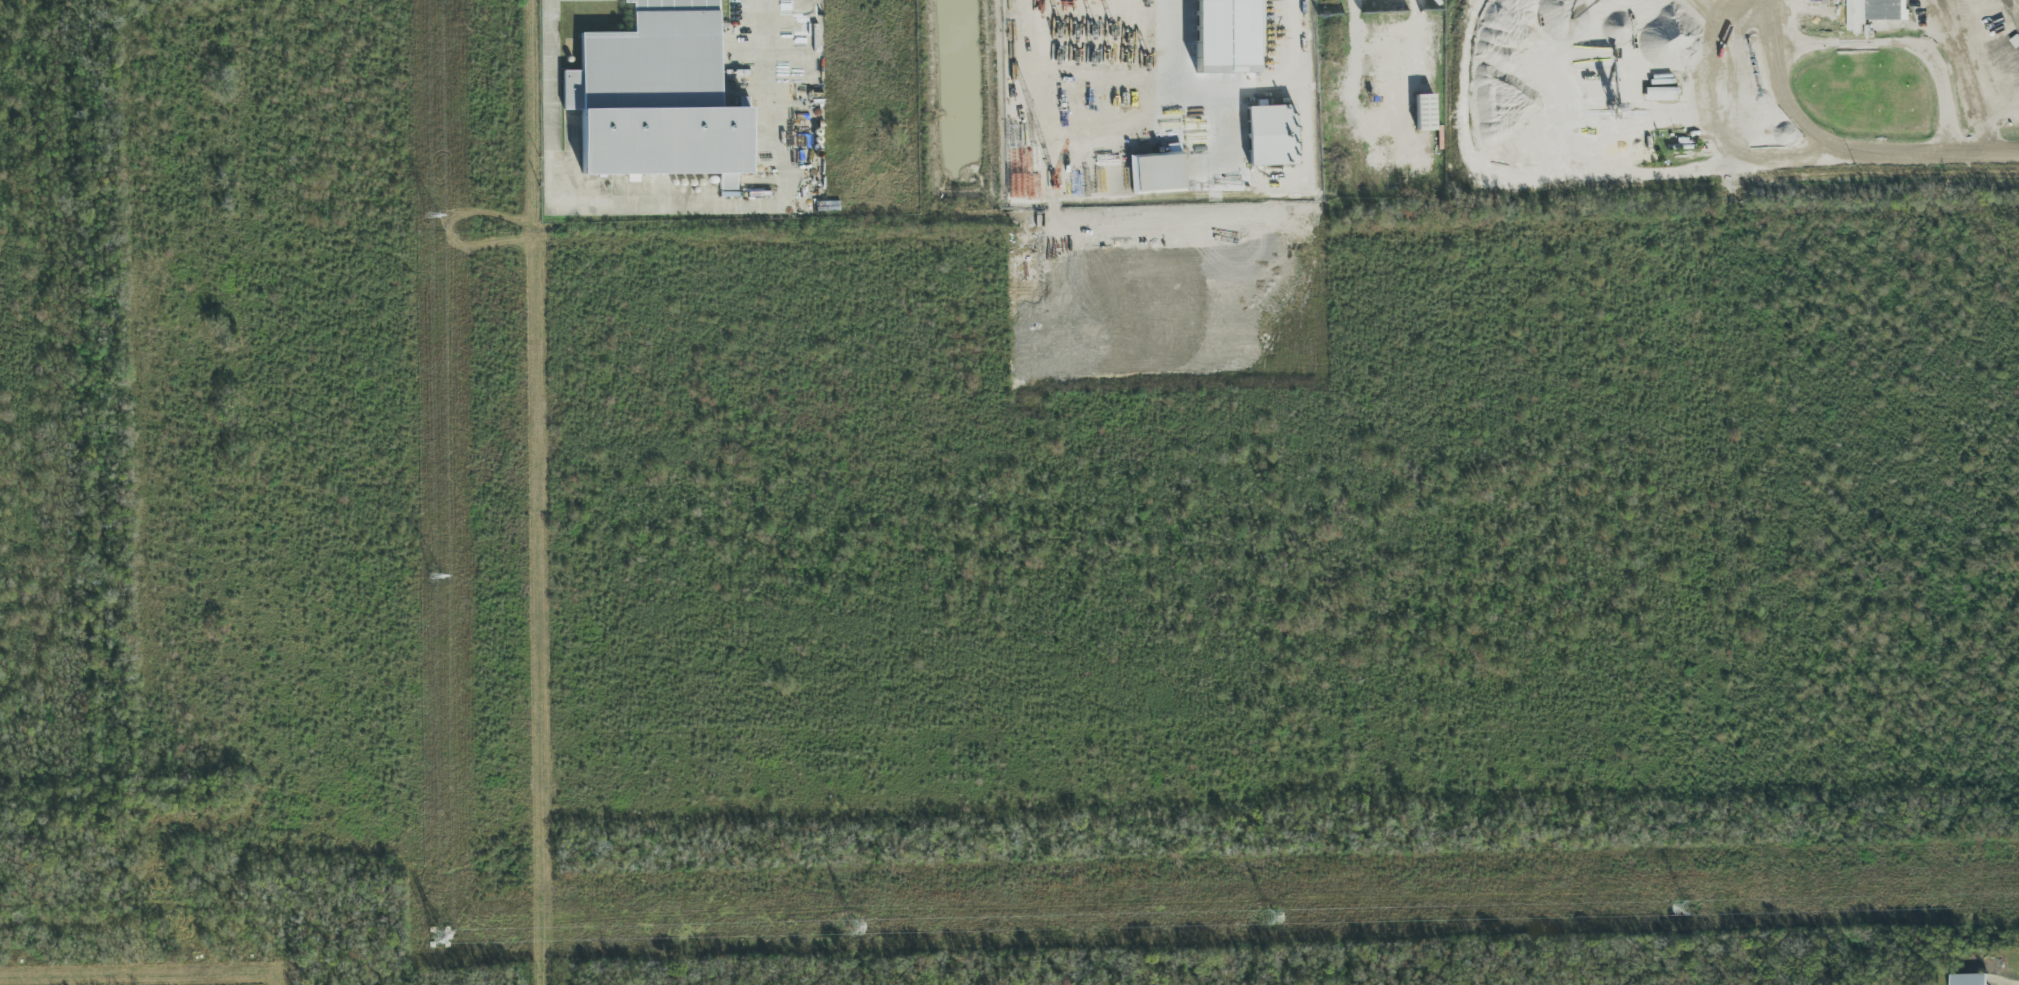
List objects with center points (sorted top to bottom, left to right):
building: (1873, 12)
building: (1227, 35)
road: (1791, 49)
road: (1970, 73)
building: (1661, 93)
building: (658, 96)
road: (552, 102)
building: (1425, 112)
building: (1270, 134)
road: (1982, 153)
building: (1161, 167)
road: (772, 197)
power tower: (432, 217)
power tower: (434, 578)
power tower: (1684, 912)
power tower: (1264, 918)
power tower: (847, 929)
power tower: (434, 939)
building: (1969, 979)

